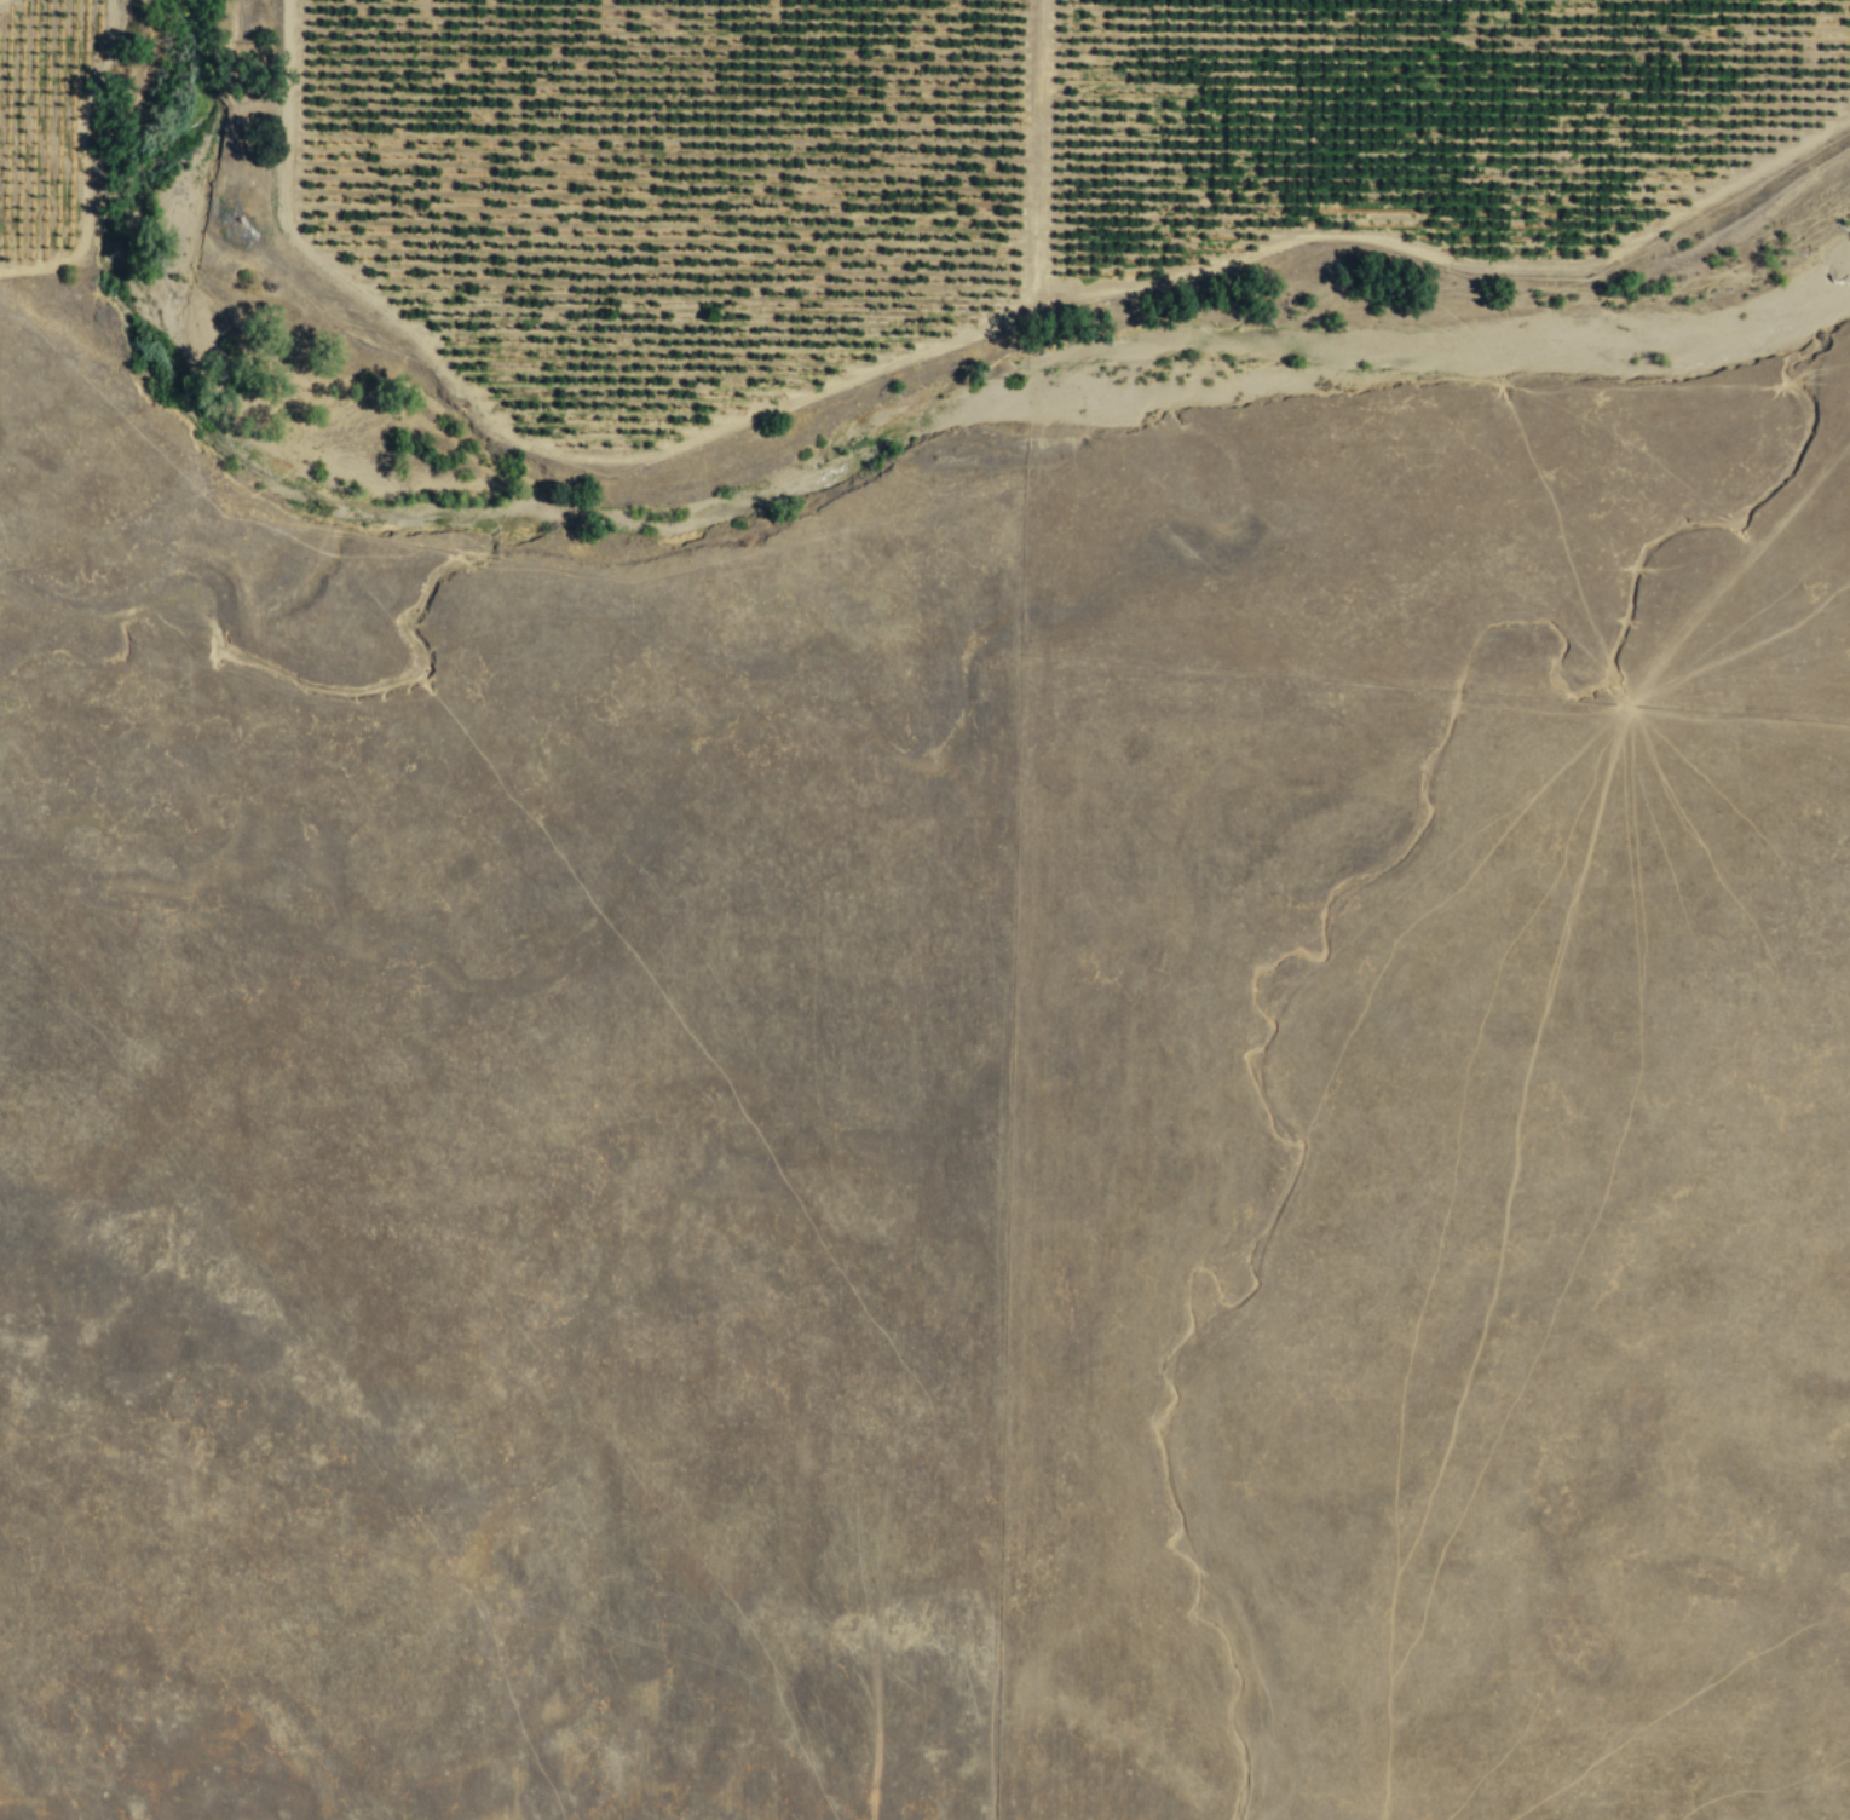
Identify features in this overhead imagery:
river: (818, 467)
road: (1581, 718)
road: (883, 1494)

